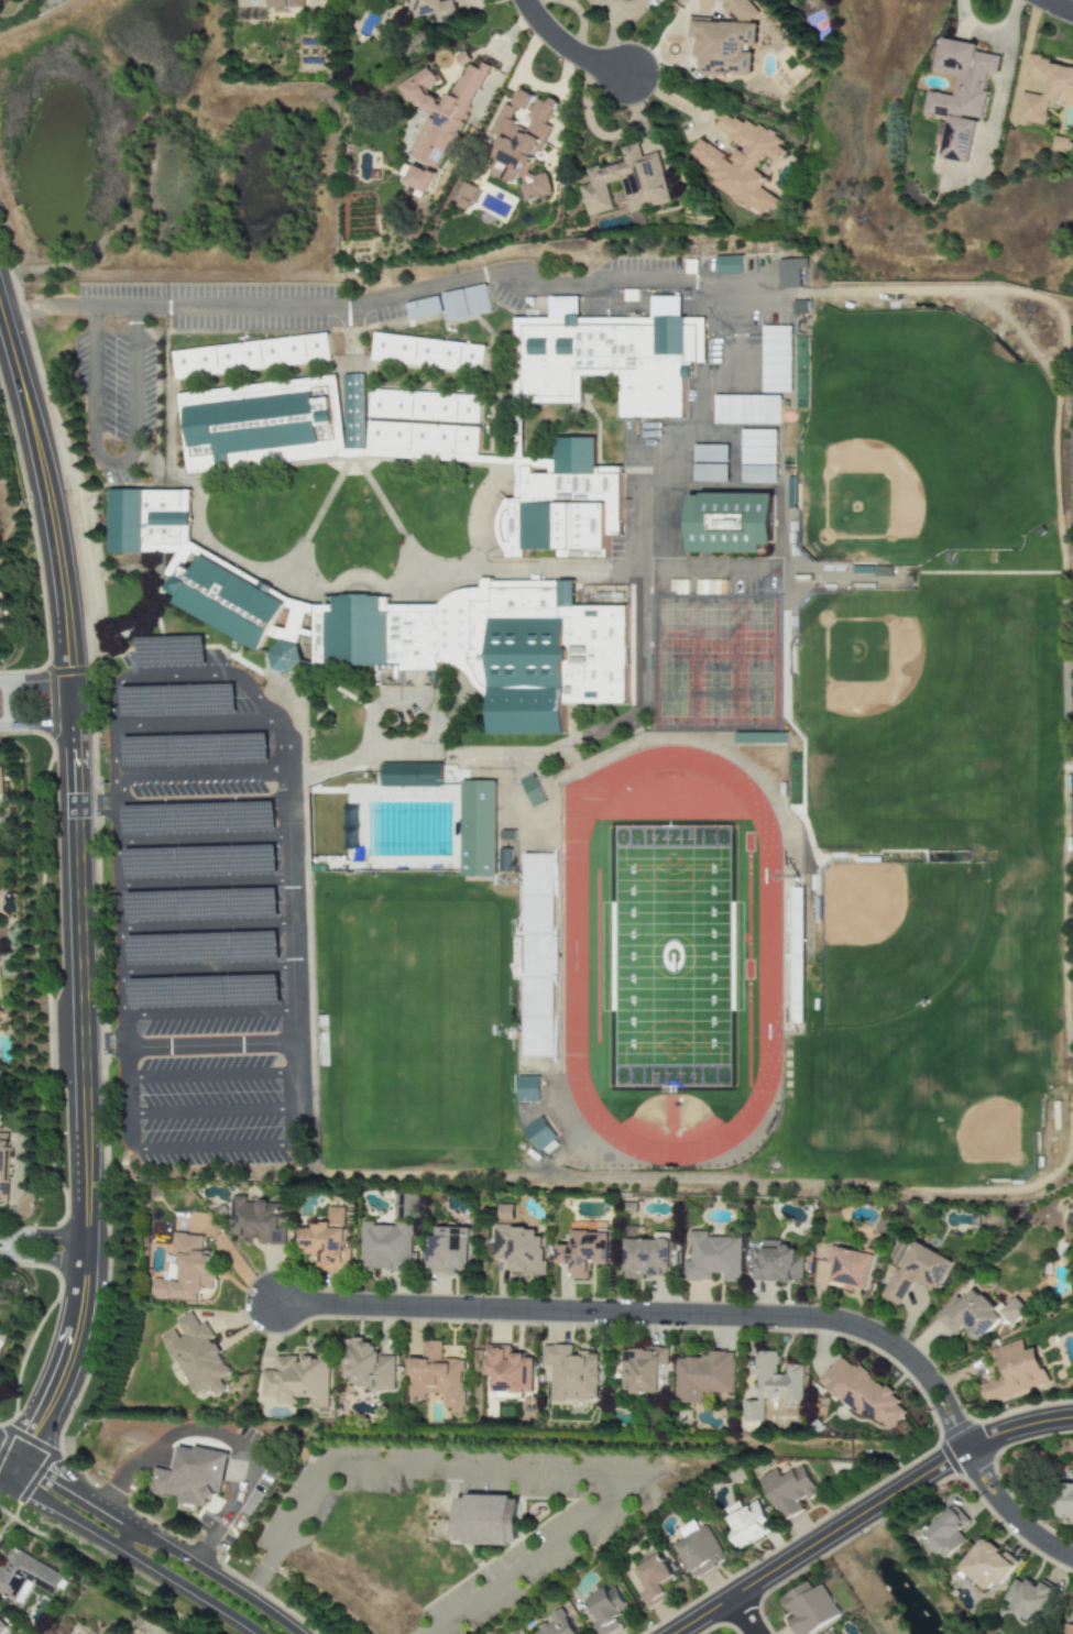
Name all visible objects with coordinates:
building: (289, 3)
building: (598, 3)
building: (644, 3)
road: (1058, 6)
building: (438, 9)
building: (740, 10)
road: (976, 29)
road: (566, 46)
building: (724, 46)
road: (1001, 80)
building: (961, 95)
building: (1059, 95)
road: (675, 101)
building: (440, 112)
building: (525, 141)
building: (1062, 145)
building: (743, 163)
building: (420, 179)
building: (631, 183)
building: (468, 196)
road: (493, 277)
road: (708, 423)
park: (919, 442)
road: (116, 467)
road: (185, 671)
road: (36, 684)
road: (12, 709)
road: (189, 710)
building: (584, 724)
road: (37, 732)
road: (199, 744)
road: (199, 778)
building: (0, 782)
road: (113, 796)
road: (184, 810)
road: (201, 836)
road: (202, 873)
park: (931, 887)
road: (83, 901)
road: (204, 910)
road: (205, 945)
track: (573, 955)
park: (671, 956)
road: (206, 980)
road: (207, 1015)
road: (195, 1048)
road: (209, 1079)
road: (209, 1112)
road: (226, 1153)
building: (407, 1206)
building: (258, 1220)
building: (329, 1242)
building: (388, 1248)
building: (523, 1249)
road: (44, 1251)
building: (450, 1251)
building: (585, 1253)
building: (713, 1258)
building: (648, 1259)
building: (777, 1263)
building: (852, 1266)
building: (187, 1271)
building: (919, 1271)
building: (977, 1315)
road: (655, 1316)
building: (196, 1356)
building: (366, 1366)
building: (643, 1370)
building: (1014, 1372)
building: (572, 1373)
building: (437, 1377)
building: (704, 1377)
building: (298, 1380)
building: (775, 1386)
building: (863, 1392)
road: (142, 1463)
road: (549, 1476)
building: (200, 1479)
building: (788, 1491)
building: (1066, 1501)
road: (236, 1509)
road: (871, 1513)
road: (1011, 1514)
building: (491, 1523)
building: (747, 1523)
building: (948, 1533)
road: (125, 1535)
road: (155, 1535)
building: (700, 1553)
road: (128, 1555)
building: (988, 1565)
road: (261, 1576)
building: (24, 1577)
building: (654, 1581)
building: (1030, 1598)
building: (810, 1609)
building: (607, 1610)
road: (747, 1616)
building: (558, 1624)
building: (1, 1626)
building: (1069, 1628)
building: (840, 1633)

